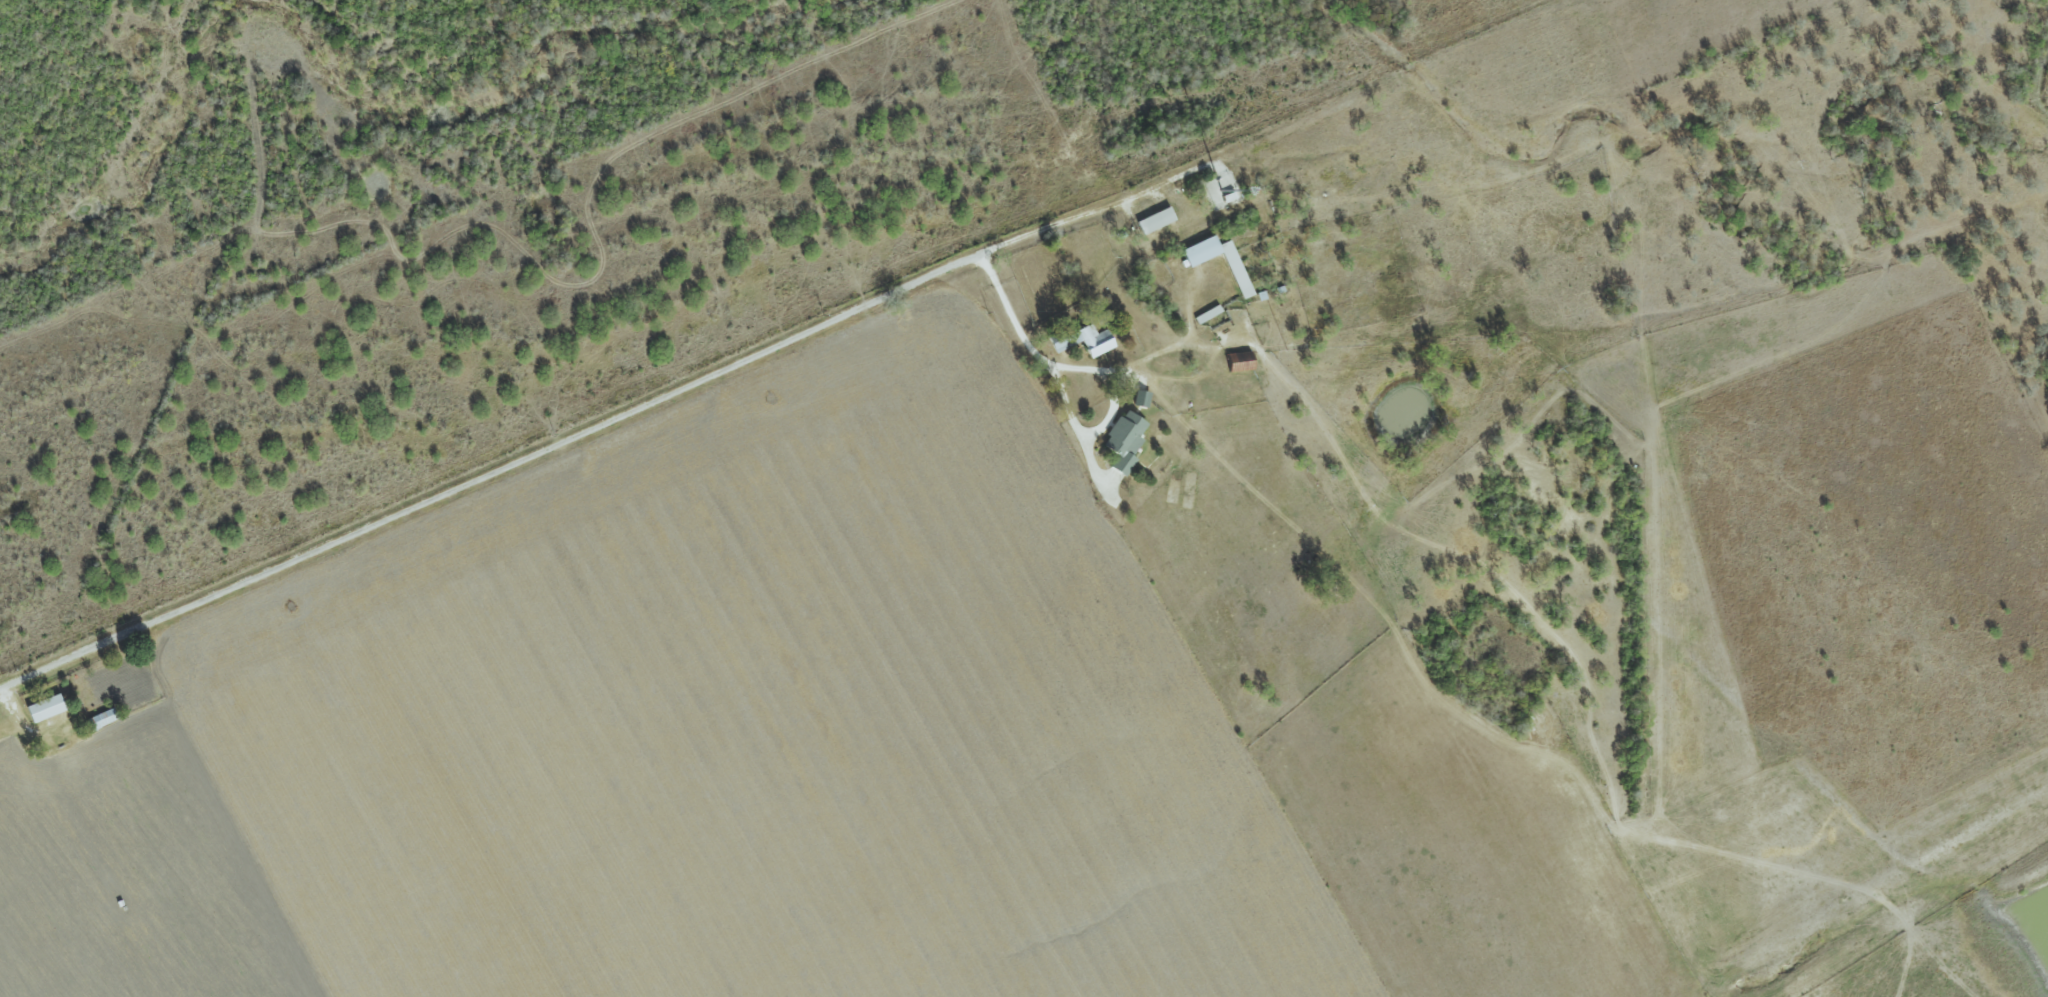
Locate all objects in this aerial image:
road: (1068, 218)
building: (1154, 221)
building: (1199, 251)
building: (1081, 340)
road: (1063, 397)
building: (1122, 441)
road: (490, 472)
building: (43, 709)

